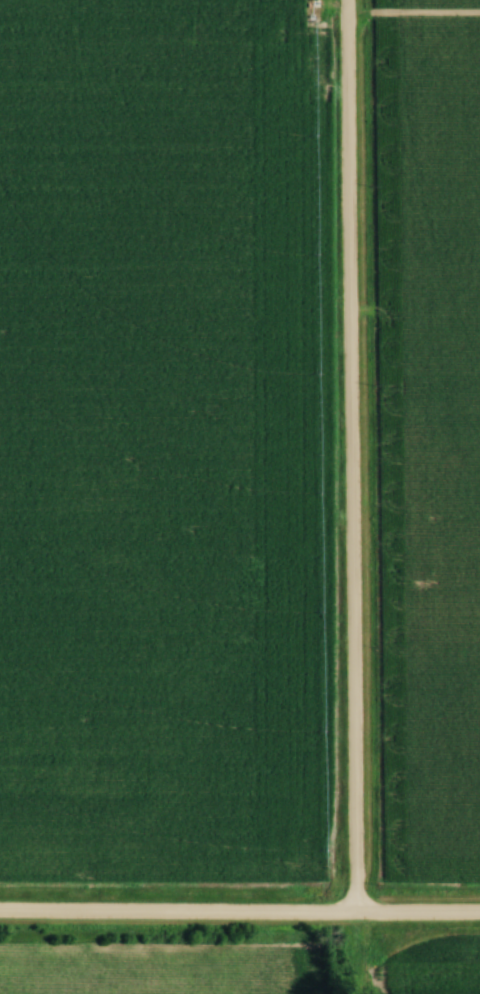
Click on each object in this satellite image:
road: (346, 456)
road: (239, 912)

